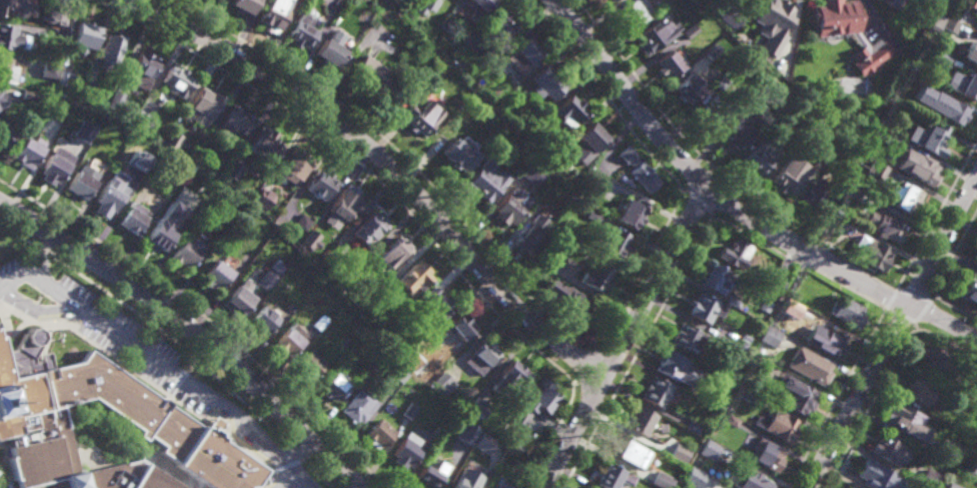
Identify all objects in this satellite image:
building: (607, 0)
building: (612, 0)
building: (894, 4)
building: (245, 6)
building: (426, 6)
building: (13, 8)
building: (779, 8)
building: (478, 9)
building: (274, 13)
building: (633, 13)
building: (958, 14)
building: (59, 19)
building: (445, 23)
building: (944, 24)
building: (501, 26)
building: (303, 30)
building: (690, 32)
building: (847, 32)
building: (789, 33)
building: (58, 34)
building: (85, 36)
building: (656, 36)
building: (12, 39)
building: (469, 41)
building: (111, 51)
building: (461, 51)
building: (330, 54)
building: (971, 54)
building: (521, 55)
building: (943, 58)
building: (668, 65)
building: (868, 65)
building: (50, 70)
building: (143, 71)
building: (7, 72)
building: (370, 77)
building: (66, 79)
building: (177, 82)
building: (478, 84)
building: (547, 84)
building: (963, 86)
building: (405, 89)
building: (688, 90)
building: (89, 91)
building: (756, 91)
road: (602, 94)
building: (29, 96)
building: (0, 97)
building: (116, 101)
building: (892, 103)
building: (2, 105)
building: (940, 107)
building: (202, 108)
building: (570, 112)
building: (713, 113)
building: (422, 117)
building: (815, 119)
building: (236, 121)
building: (142, 123)
building: (84, 132)
building: (6, 134)
building: (735, 137)
building: (930, 140)
building: (171, 141)
building: (893, 141)
building: (589, 143)
building: (267, 145)
building: (30, 149)
building: (825, 153)
building: (762, 154)
building: (458, 157)
building: (198, 158)
building: (555, 162)
road: (390, 164)
building: (294, 167)
road: (712, 169)
building: (877, 170)
building: (234, 171)
building: (638, 171)
building: (923, 171)
building: (55, 172)
building: (526, 175)
building: (788, 175)
building: (592, 181)
building: (485, 183)
building: (82, 184)
building: (322, 185)
road: (682, 191)
building: (849, 192)
building: (814, 196)
building: (905, 199)
building: (107, 200)
building: (263, 200)
road: (697, 201)
road: (400, 202)
building: (346, 204)
road: (734, 207)
building: (510, 208)
building: (191, 209)
road: (936, 214)
road: (457, 215)
building: (629, 215)
road: (711, 215)
building: (133, 218)
building: (591, 218)
building: (303, 221)
building: (837, 222)
building: (885, 225)
building: (314, 228)
building: (369, 228)
building: (158, 234)
building: (528, 236)
road: (752, 237)
building: (310, 240)
building: (609, 240)
building: (194, 244)
building: (337, 248)
building: (395, 250)
building: (734, 251)
building: (185, 252)
building: (873, 252)
road: (953, 252)
road: (42, 256)
building: (976, 258)
building: (545, 262)
building: (596, 271)
building: (216, 273)
building: (360, 273)
building: (414, 275)
building: (717, 277)
building: (266, 278)
building: (774, 283)
building: (968, 288)
building: (382, 292)
building: (564, 295)
building: (296, 299)
building: (732, 299)
building: (238, 300)
building: (782, 301)
building: (436, 304)
building: (764, 304)
building: (704, 306)
building: (846, 310)
road: (956, 310)
building: (264, 318)
road: (207, 319)
building: (320, 321)
building: (459, 327)
building: (356, 328)
road: (192, 329)
road: (893, 334)
building: (769, 335)
road: (624, 337)
building: (687, 337)
building: (291, 339)
building: (828, 340)
road: (177, 342)
road: (597, 342)
building: (738, 344)
building: (485, 352)
building: (414, 355)
building: (939, 360)
building: (311, 363)
building: (762, 363)
road: (162, 364)
building: (405, 364)
road: (588, 364)
building: (672, 364)
building: (809, 364)
building: (369, 365)
building: (724, 368)
building: (398, 372)
building: (508, 377)
building: (444, 383)
building: (335, 384)
road: (575, 384)
building: (920, 388)
building: (655, 391)
building: (744, 391)
building: (971, 391)
building: (797, 394)
building: (477, 398)
building: (534, 402)
building: (359, 405)
building: (409, 410)
building: (730, 419)
building: (906, 419)
building: (640, 420)
building: (776, 424)
building: (963, 425)
building: (976, 425)
building: (693, 426)
building: (110, 433)
building: (467, 433)
building: (379, 434)
building: (482, 443)
building: (889, 448)
building: (717, 449)
building: (948, 449)
building: (406, 450)
building: (627, 450)
road: (296, 452)
building: (679, 452)
building: (766, 454)
building: (489, 466)
building: (968, 467)
building: (872, 474)
building: (429, 475)
building: (613, 476)
building: (701, 477)
building: (930, 478)
road: (288, 480)
building: (662, 480)
building: (751, 480)
building: (463, 481)
building: (503, 483)
building: (846, 487)
building: (850, 487)
building: (952, 487)

